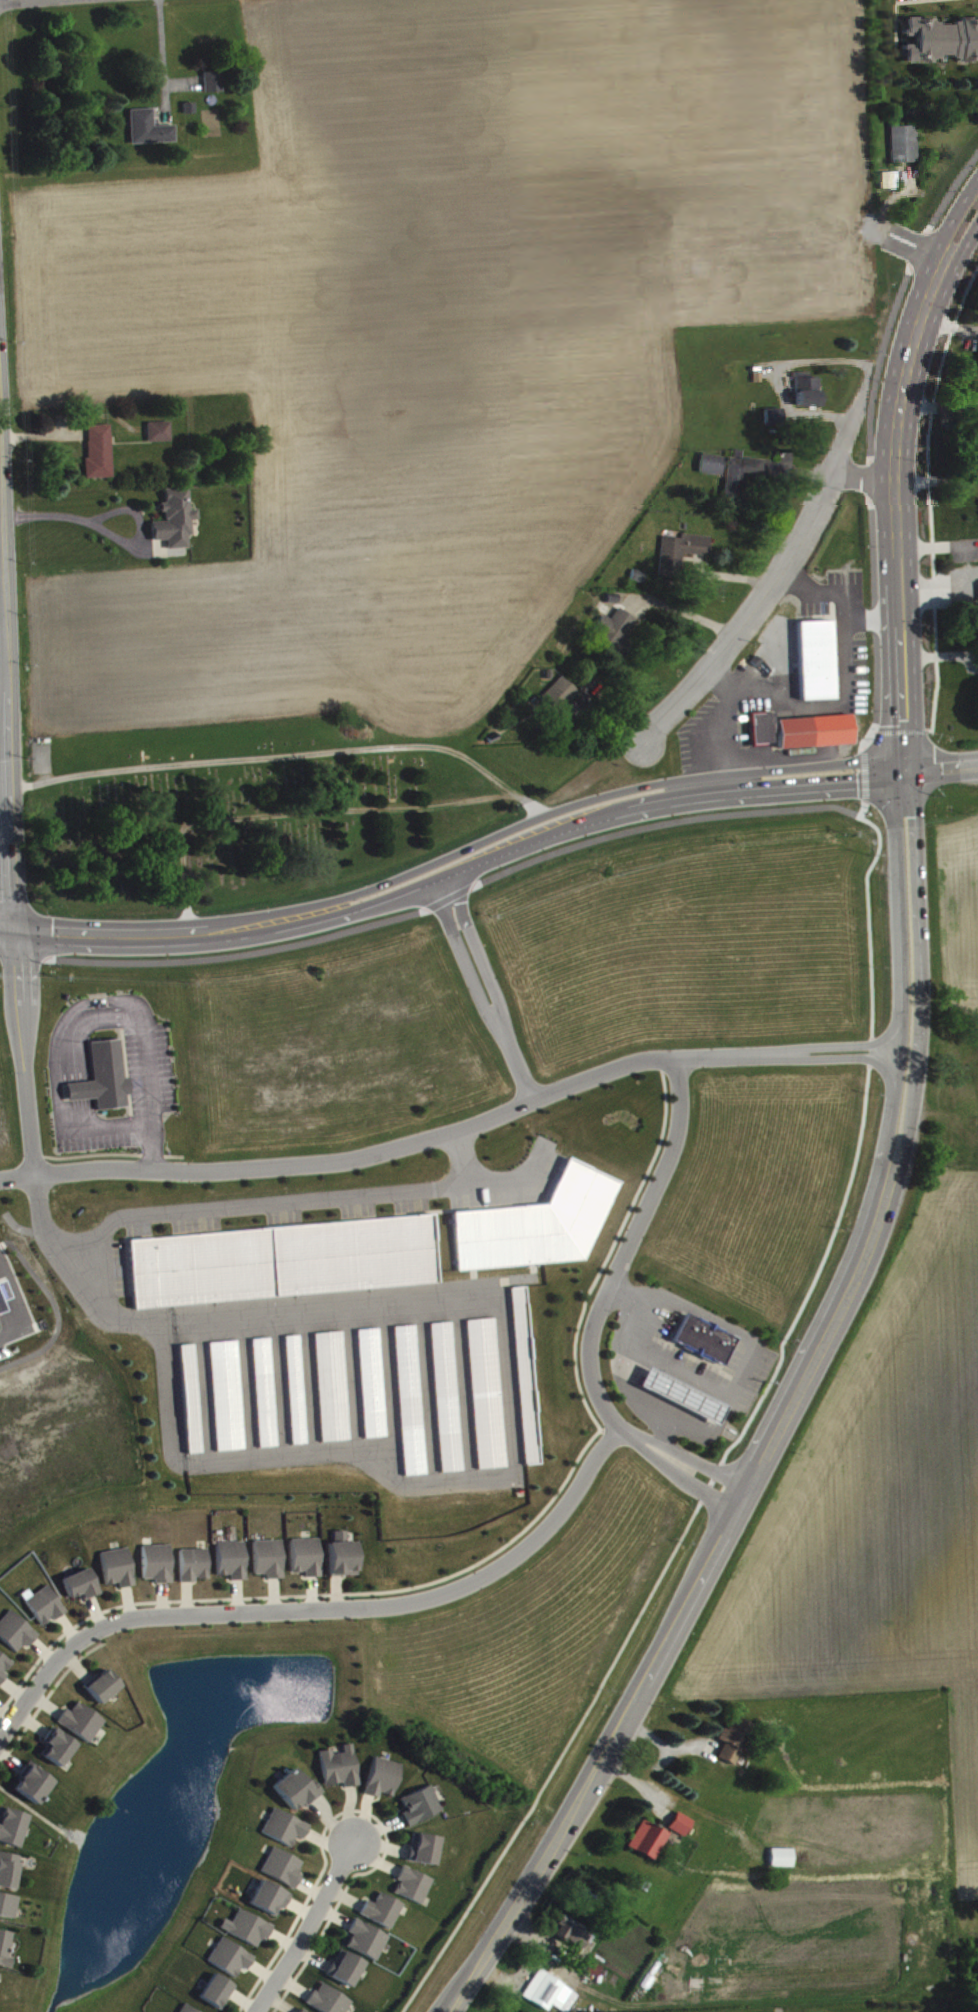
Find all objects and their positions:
road: (13, 0)
building: (943, 45)
road: (161, 57)
building: (215, 86)
building: (151, 132)
building: (908, 149)
building: (893, 186)
road: (945, 228)
road: (956, 256)
building: (810, 396)
building: (777, 422)
road: (869, 424)
building: (161, 435)
building: (100, 455)
building: (715, 470)
building: (743, 484)
road: (928, 496)
road: (888, 503)
building: (176, 523)
road: (108, 535)
building: (683, 556)
road: (760, 592)
road: (685, 613)
building: (618, 636)
road: (2, 640)
building: (817, 664)
road: (3, 685)
building: (563, 698)
road: (6, 707)
road: (899, 730)
road: (872, 731)
building: (763, 733)
road: (868, 734)
building: (817, 735)
road: (897, 750)
road: (938, 767)
traffic signals: (899, 770)
road: (863, 774)
road: (667, 821)
road: (451, 867)
road: (446, 897)
traffic signals: (12, 923)
road: (236, 954)
road: (482, 987)
road: (57, 1040)
road: (18, 1047)
building: (99, 1076)
road: (145, 1090)
road: (473, 1121)
road: (103, 1126)
road: (16, 1173)
road: (240, 1205)
building: (534, 1222)
road: (623, 1252)
building: (279, 1258)
building: (2, 1290)
road: (100, 1303)
road: (16, 1306)
building: (700, 1337)
building: (522, 1374)
building: (368, 1380)
building: (329, 1384)
building: (293, 1387)
building: (261, 1389)
building: (483, 1390)
road: (505, 1391)
building: (223, 1393)
building: (443, 1393)
building: (678, 1394)
gas station: (678, 1394)
building: (187, 1396)
building: (407, 1397)
road: (165, 1398)
road: (726, 1404)
road: (778, 1421)
road: (665, 1429)
road: (735, 1440)
road: (691, 1458)
road: (680, 1476)
building: (345, 1560)
building: (309, 1561)
building: (272, 1563)
building: (235, 1564)
building: (160, 1567)
building: (197, 1569)
building: (120, 1572)
building: (83, 1589)
road: (321, 1607)
building: (46, 1609)
building: (17, 1636)
building: (5, 1671)
building: (105, 1690)
building: (83, 1726)
building: (735, 1744)
building: (59, 1752)
building: (341, 1771)
building: (384, 1782)
building: (34, 1788)
building: (298, 1794)
building: (421, 1810)
building: (682, 1828)
building: (12, 1831)
building: (286, 1832)
building: (649, 1844)
building: (424, 1853)
building: (783, 1862)
building: (284, 1872)
building: (9, 1874)
building: (414, 1889)
building: (271, 1902)
building: (8, 1910)
building: (383, 1915)
road: (299, 1927)
building: (249, 1932)
building: (572, 1936)
building: (368, 1944)
building: (5, 1954)
building: (232, 1962)
road: (530, 1964)
building: (346, 1973)
building: (593, 1974)
building: (219, 1996)
building: (551, 1997)
building: (330, 2003)
building: (186, 2011)

